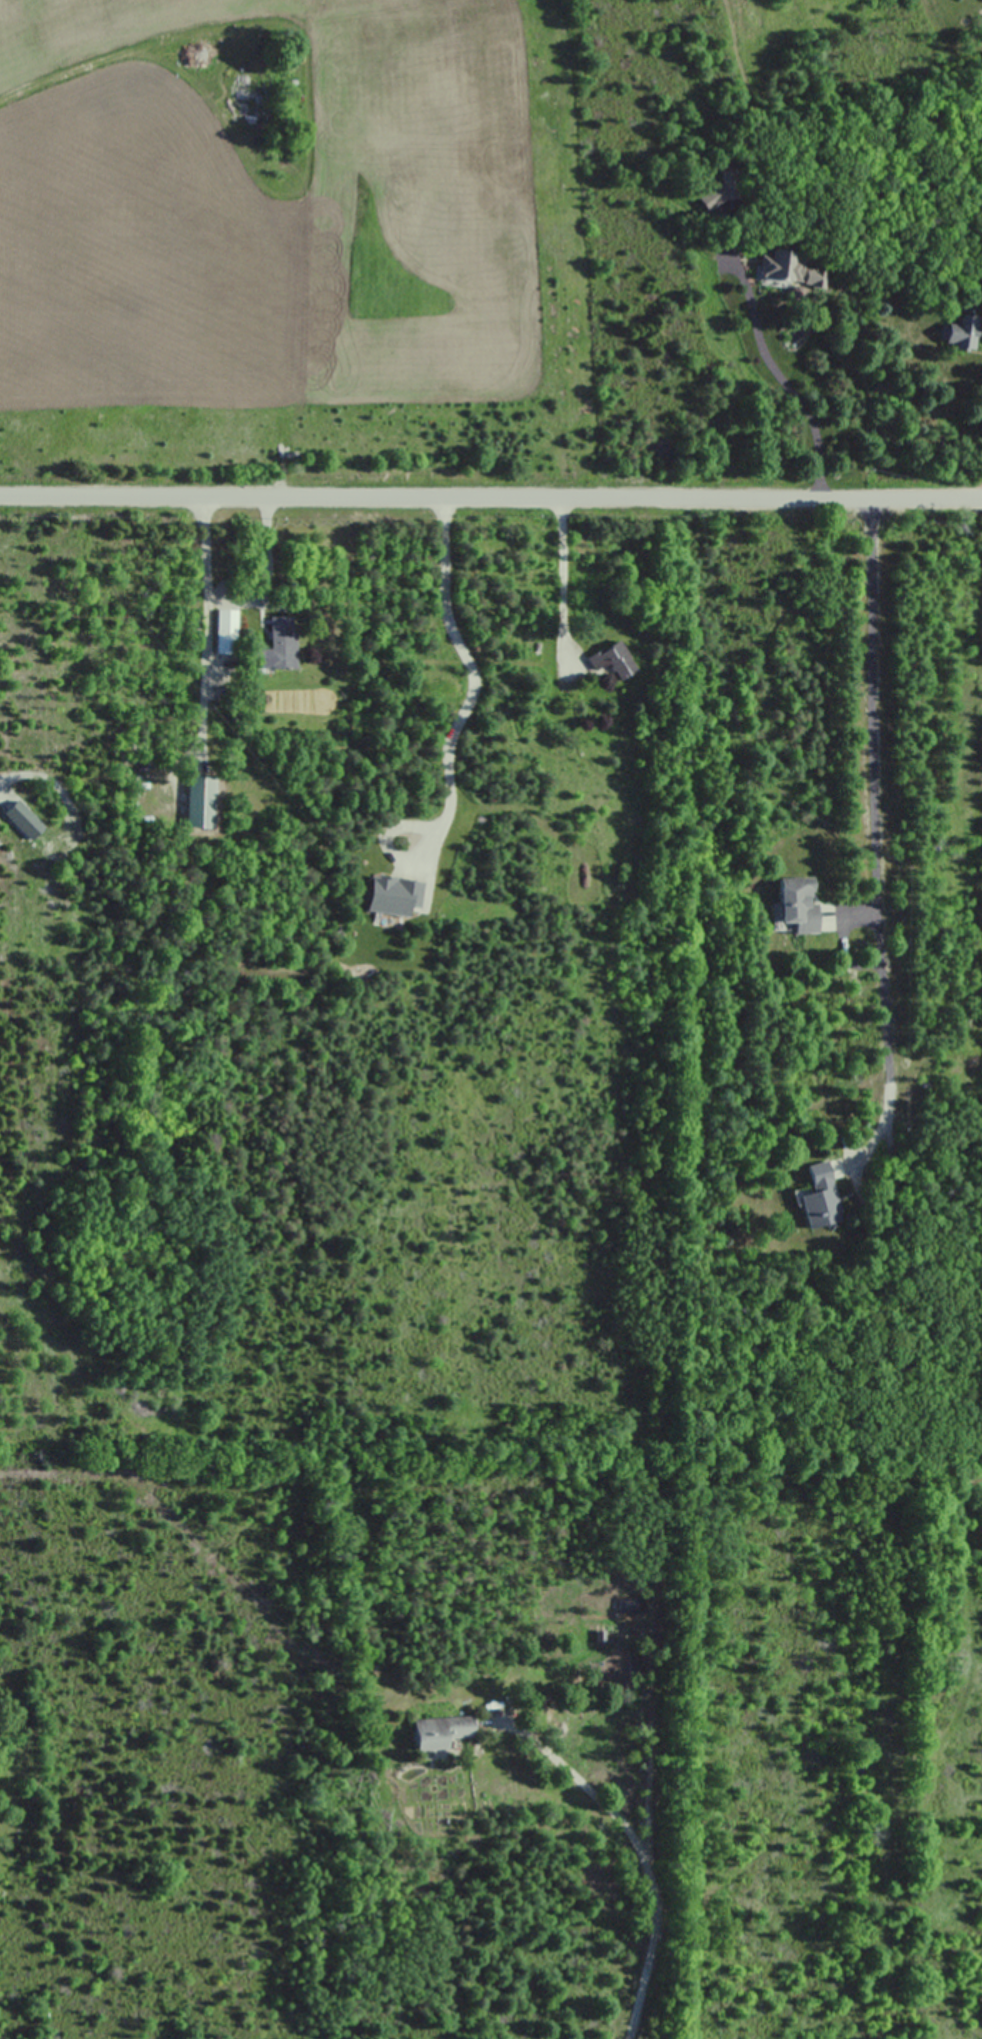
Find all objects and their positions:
building: (715, 197)
building: (778, 266)
building: (960, 334)
road: (780, 378)
road: (491, 492)
road: (268, 578)
road: (562, 580)
road: (205, 617)
building: (225, 631)
building: (281, 642)
building: (613, 660)
building: (200, 810)
road: (873, 899)
building: (797, 903)
building: (818, 1196)
building: (438, 1731)
road: (639, 1854)

